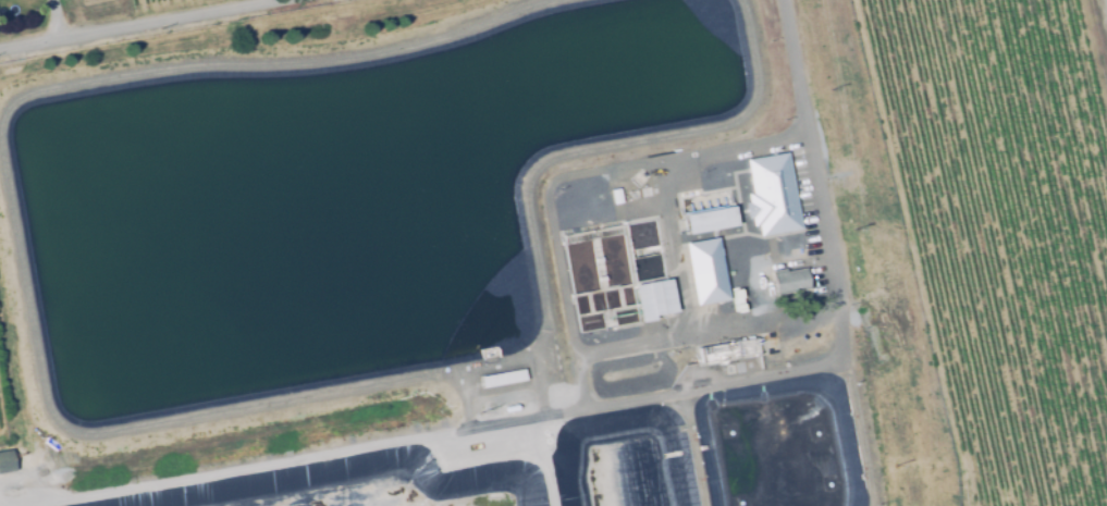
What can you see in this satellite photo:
building: (828, 0)
road: (54, 20)
road: (138, 24)
road: (794, 66)
building: (846, 131)
building: (866, 166)
building: (852, 170)
building: (617, 194)
building: (771, 195)
building: (860, 215)
building: (708, 219)
building: (705, 271)
building: (788, 282)
building: (652, 298)
road: (497, 369)
building: (504, 375)
road: (582, 402)
road: (690, 448)
road: (315, 455)
building: (4, 462)

